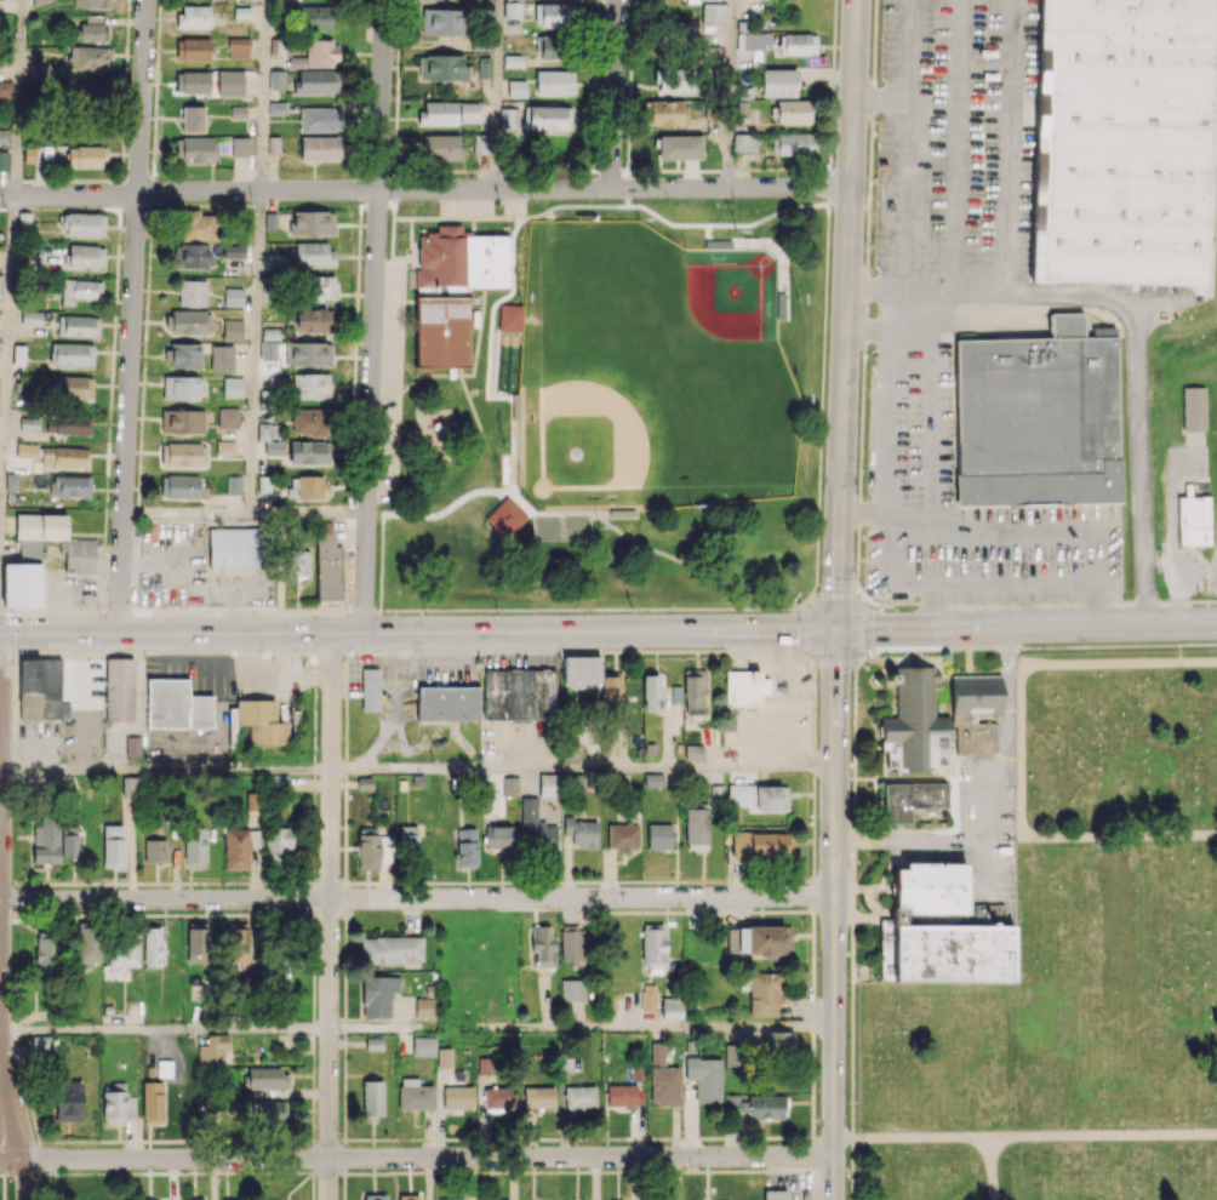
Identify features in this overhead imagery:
building: (692, 0)
building: (41, 1)
building: (91, 4)
building: (513, 8)
building: (553, 15)
building: (193, 16)
building: (713, 16)
building: (316, 17)
building: (442, 21)
building: (91, 28)
building: (798, 44)
building: (238, 46)
building: (550, 47)
building: (192, 48)
road: (902, 50)
building: (316, 55)
building: (90, 57)
building: (441, 67)
building: (276, 79)
building: (674, 80)
building: (192, 81)
building: (316, 81)
building: (229, 82)
building: (554, 82)
building: (778, 82)
building: (6, 88)
building: (516, 88)
building: (87, 91)
road: (731, 93)
road: (264, 95)
road: (498, 95)
road: (613, 95)
road: (18, 97)
building: (276, 107)
building: (793, 110)
building: (469, 112)
building: (667, 112)
building: (438, 113)
building: (192, 118)
building: (508, 118)
building: (547, 118)
building: (319, 119)
building: (4, 136)
building: (1120, 141)
building: (744, 142)
building: (793, 144)
building: (242, 145)
building: (442, 147)
building: (679, 147)
building: (319, 148)
building: (194, 150)
building: (85, 156)
building: (4, 160)
road: (424, 189)
building: (312, 222)
building: (84, 224)
building: (196, 225)
building: (233, 250)
building: (312, 253)
building: (85, 256)
building: (189, 256)
building: (0, 284)
building: (320, 287)
building: (79, 290)
building: (455, 291)
building: (192, 292)
building: (233, 296)
road: (954, 297)
road: (1085, 299)
road: (872, 305)
road: (896, 307)
road: (131, 316)
road: (373, 316)
building: (30, 318)
building: (509, 318)
building: (314, 319)
building: (188, 321)
building: (76, 325)
building: (232, 330)
road: (7, 344)
building: (268, 344)
road: (256, 352)
building: (308, 353)
building: (70, 354)
building: (183, 355)
building: (222, 359)
park: (657, 368)
parking lot: (384, 382)
building: (310, 385)
building: (70, 387)
building: (232, 387)
building: (181, 388)
park: (598, 400)
building: (1193, 407)
building: (227, 417)
building: (1038, 417)
building: (182, 421)
building: (309, 421)
building: (29, 423)
building: (68, 424)
building: (270, 438)
building: (225, 447)
building: (25, 450)
building: (309, 452)
building: (183, 453)
building: (63, 457)
building: (69, 485)
building: (233, 485)
building: (179, 486)
building: (305, 486)
road: (187, 513)
road: (309, 513)
road: (932, 514)
building: (1193, 515)
building: (504, 518)
building: (40, 526)
building: (564, 530)
road: (890, 541)
building: (235, 547)
building: (79, 555)
building: (297, 562)
building: (327, 562)
road: (1012, 576)
building: (22, 577)
road: (0, 581)
road: (838, 599)
traffic signals: (838, 629)
road: (608, 630)
traffic signals: (0, 635)
road: (330, 651)
road: (571, 651)
road: (164, 652)
road: (8, 653)
road: (802, 656)
road: (834, 662)
building: (581, 672)
building: (744, 687)
building: (370, 688)
building: (611, 688)
building: (42, 690)
building: (119, 690)
building: (693, 691)
building: (651, 692)
building: (518, 693)
road: (0, 702)
building: (446, 703)
building: (176, 705)
building: (973, 712)
road: (13, 718)
building: (261, 721)
building: (914, 724)
road: (853, 732)
road: (999, 737)
building: (132, 747)
road: (1022, 748)
road: (314, 752)
building: (693, 752)
road: (345, 765)
road: (583, 768)
road: (165, 770)
road: (813, 770)
building: (652, 779)
building: (558, 783)
building: (131, 785)
building: (509, 785)
building: (756, 796)
road: (11, 798)
building: (910, 799)
building: (252, 801)
road: (853, 817)
building: (535, 828)
building: (696, 828)
building: (581, 832)
building: (622, 836)
building: (658, 836)
building: (499, 838)
building: (46, 839)
building: (69, 839)
road: (905, 840)
building: (408, 841)
building: (760, 845)
building: (113, 846)
building: (194, 846)
building: (276, 846)
building: (465, 847)
building: (155, 850)
building: (373, 851)
road: (314, 861)
road: (976, 867)
road: (313, 874)
road: (328, 880)
road: (345, 880)
road: (644, 880)
road: (767, 880)
road: (805, 880)
road: (6, 881)
road: (307, 881)
road: (468, 881)
road: (530, 881)
road: (105, 882)
road: (210, 882)
road: (246, 882)
road: (288, 882)
road: (354, 882)
road: (393, 882)
road: (813, 893)
road: (347, 896)
road: (313, 897)
road: (417, 898)
road: (518, 907)
road: (555, 908)
road: (675, 910)
road: (758, 910)
road: (789, 910)
road: (598, 912)
road: (275, 913)
road: (304, 913)
road: (194, 914)
road: (327, 914)
road: (74, 915)
road: (328, 915)
road: (314, 926)
building: (944, 930)
road: (344, 935)
building: (758, 939)
building: (198, 943)
building: (238, 943)
building: (152, 944)
building: (543, 944)
building: (87, 945)
building: (572, 947)
building: (653, 948)
building: (390, 949)
building: (122, 952)
road: (314, 955)
building: (45, 956)
building: (276, 958)
road: (344, 964)
park: (1073, 966)
road: (812, 979)
building: (572, 989)
building: (760, 993)
building: (378, 994)
building: (649, 996)
building: (424, 1007)
building: (672, 1007)
road: (850, 1015)
road: (581, 1028)
road: (164, 1030)
road: (12, 1039)
building: (778, 1041)
building: (41, 1044)
building: (423, 1045)
building: (212, 1048)
road: (313, 1055)
building: (732, 1056)
road: (344, 1057)
building: (444, 1057)
road: (811, 1061)
building: (265, 1078)
building: (705, 1078)
building: (663, 1079)
road: (23, 1082)
building: (415, 1095)
building: (621, 1095)
building: (579, 1096)
building: (458, 1097)
building: (498, 1097)
building: (538, 1097)
building: (372, 1099)
building: (68, 1101)
building: (153, 1102)
building: (116, 1103)
road: (812, 1104)
building: (755, 1105)
building: (269, 1112)
road: (7, 1116)
road: (34, 1124)
road: (807, 1136)
road: (1023, 1136)
road: (668, 1137)
road: (770, 1137)
road: (354, 1138)
road: (384, 1138)
road: (415, 1138)
road: (479, 1138)
road: (545, 1138)
road: (579, 1138)
road: (127, 1139)
road: (158, 1139)
road: (244, 1139)
road: (308, 1139)
road: (80, 1141)
road: (813, 1154)
road: (313, 1155)
road: (41, 1156)
road: (343, 1156)
road: (417, 1156)
road: (990, 1168)
road: (1, 1171)
road: (447, 1171)
road: (470, 1171)
road: (499, 1171)
road: (570, 1171)
road: (646, 1171)
road: (743, 1171)
road: (52, 1172)
road: (63, 1172)
road: (137, 1172)
road: (245, 1172)
road: (299, 1172)
road: (358, 1172)
road: (401, 1172)
road: (1, 1173)
road: (48, 1175)
road: (312, 1185)
road: (813, 1185)
road: (2, 1187)
road: (48, 1188)
road: (343, 1188)
building: (775, 1194)
building: (375, 1196)
building: (408, 1196)
building: (230, 1198)
building: (193, 1199)
building: (450, 1199)

